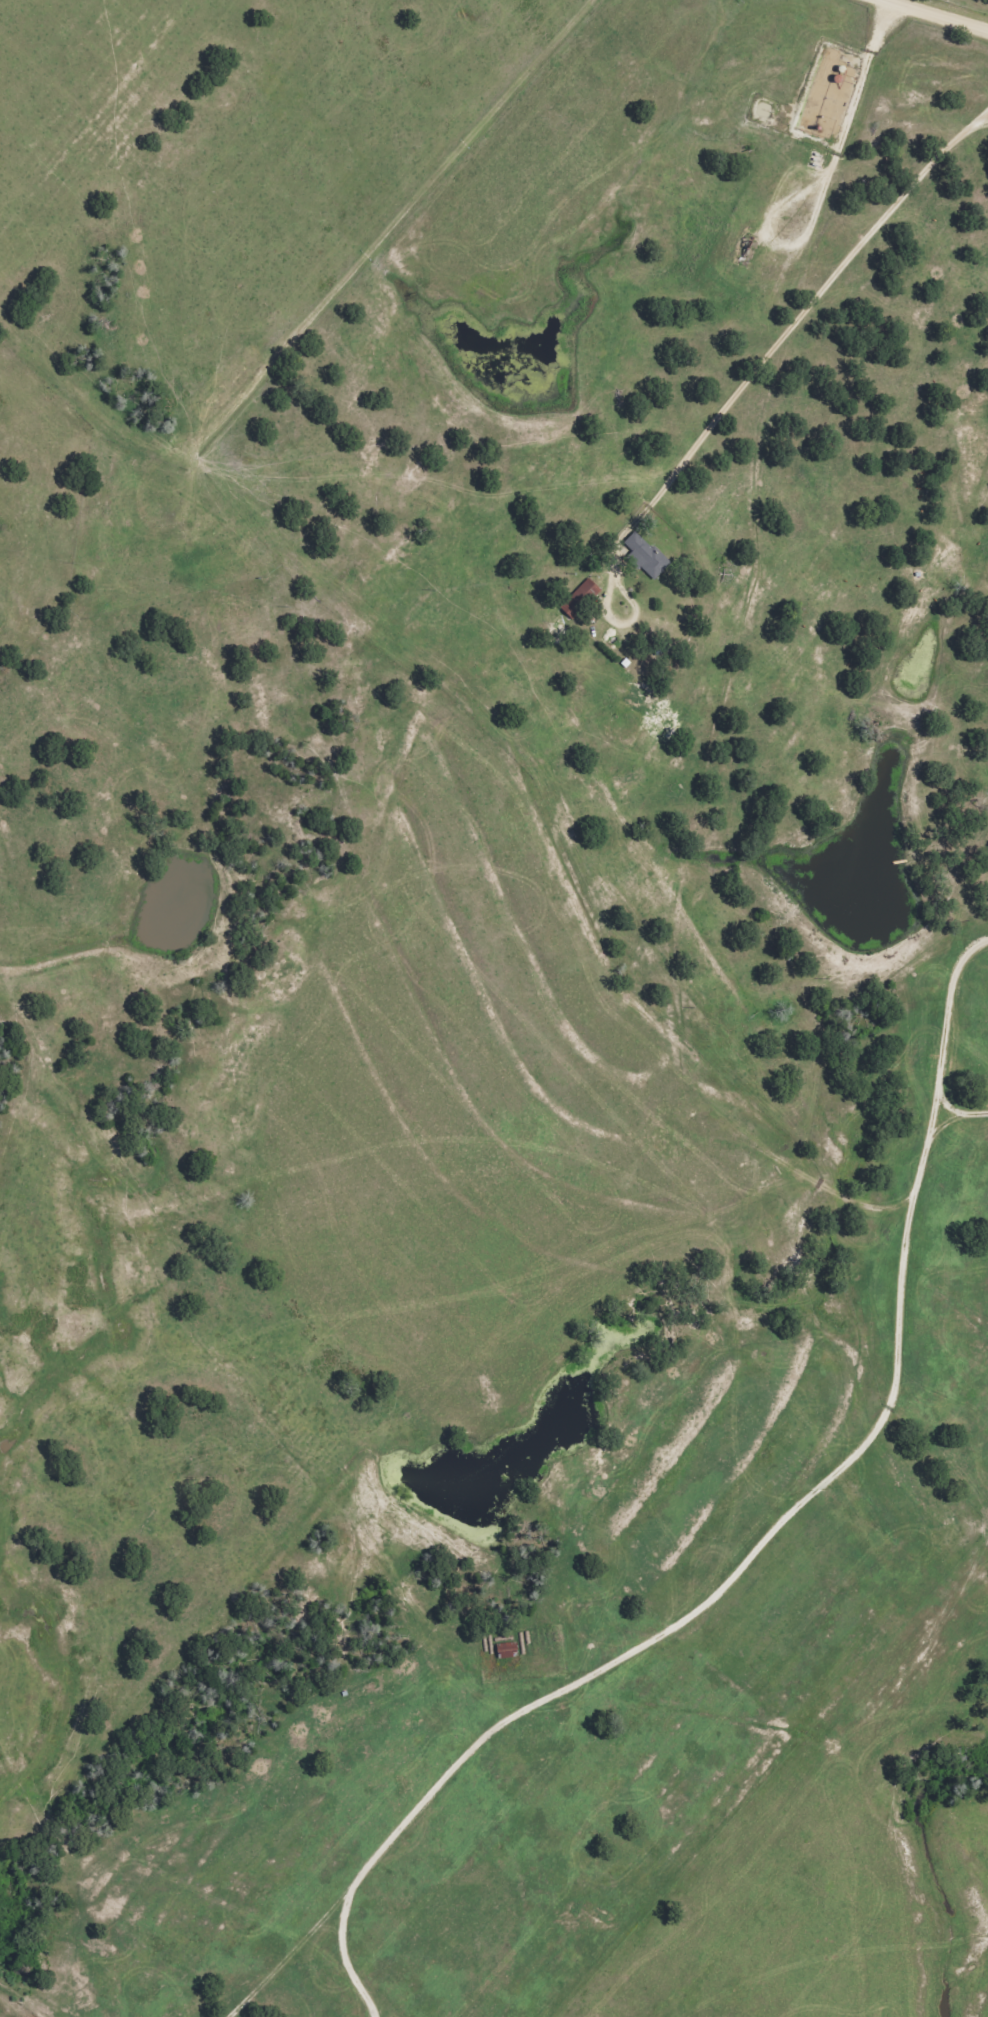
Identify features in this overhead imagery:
road: (942, 12)
road: (778, 347)
building: (645, 556)
road: (743, 1555)
building: (505, 1651)

